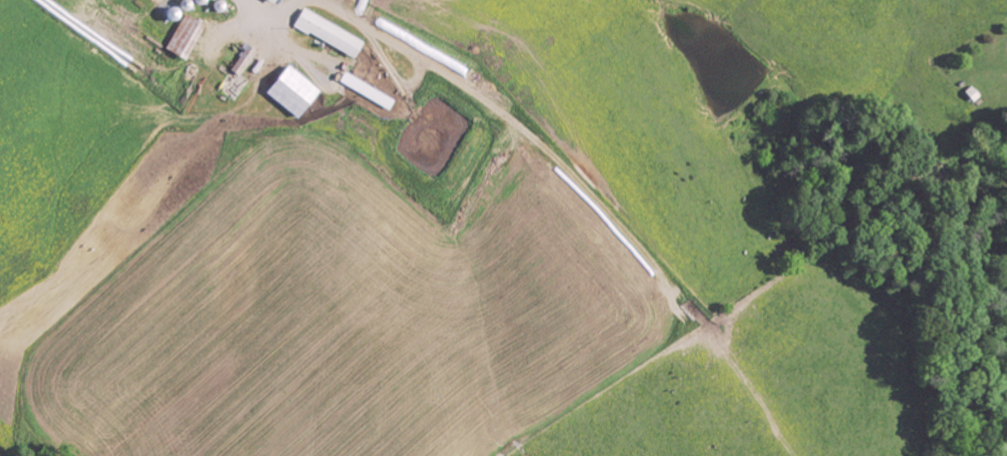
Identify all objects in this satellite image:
building: (271, 1)
building: (327, 33)
building: (183, 36)
building: (236, 75)
building: (365, 90)
building: (290, 91)
road: (107, 228)

